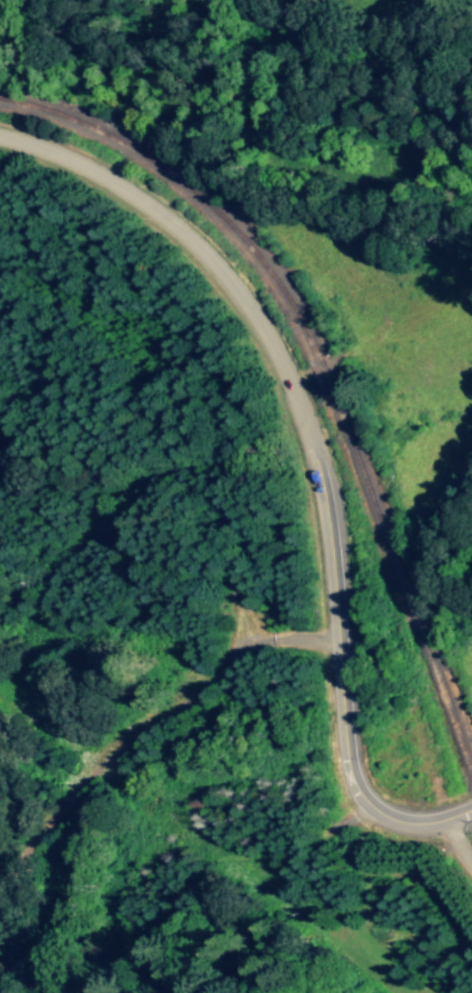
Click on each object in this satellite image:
railway: (317, 369)
road: (315, 450)
road: (454, 846)

